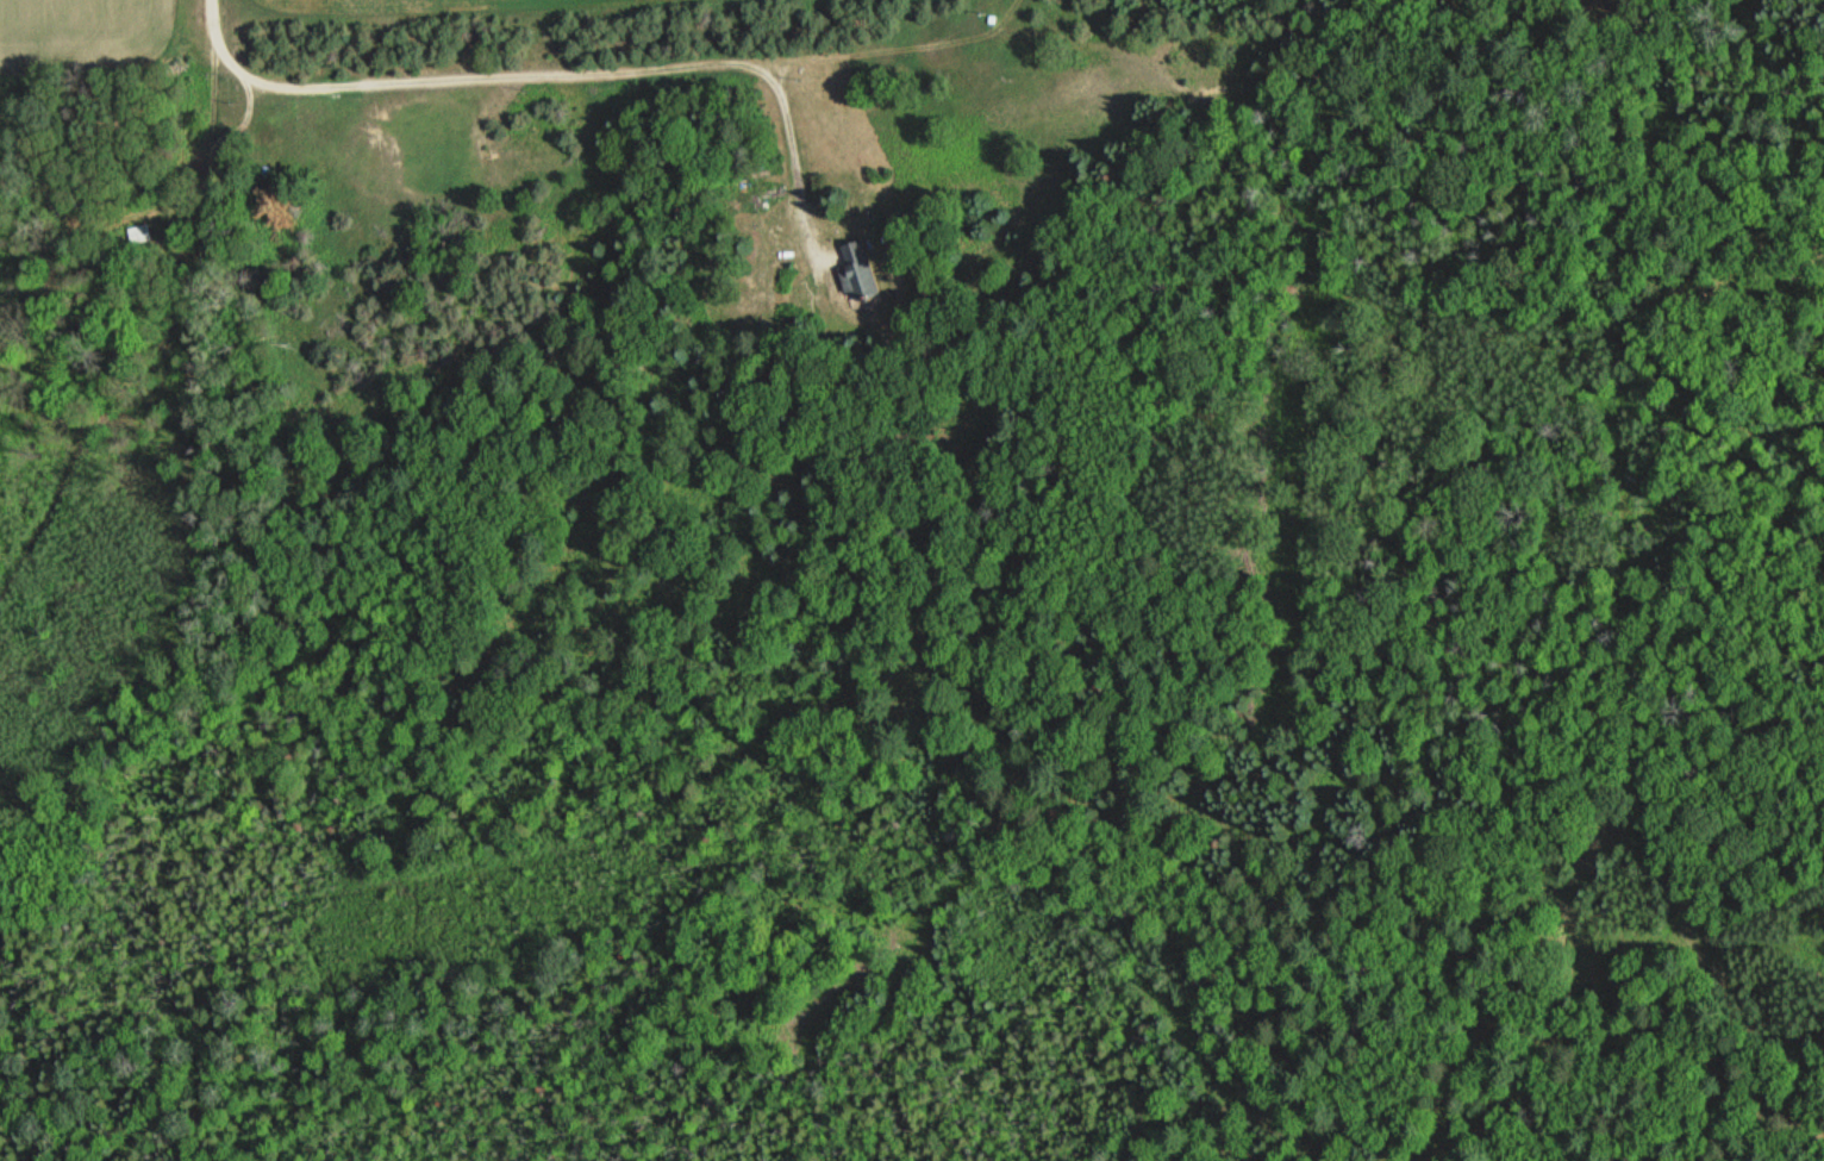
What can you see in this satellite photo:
road: (212, 13)
road: (583, 70)
building: (138, 235)
building: (855, 273)
road: (158, 343)

